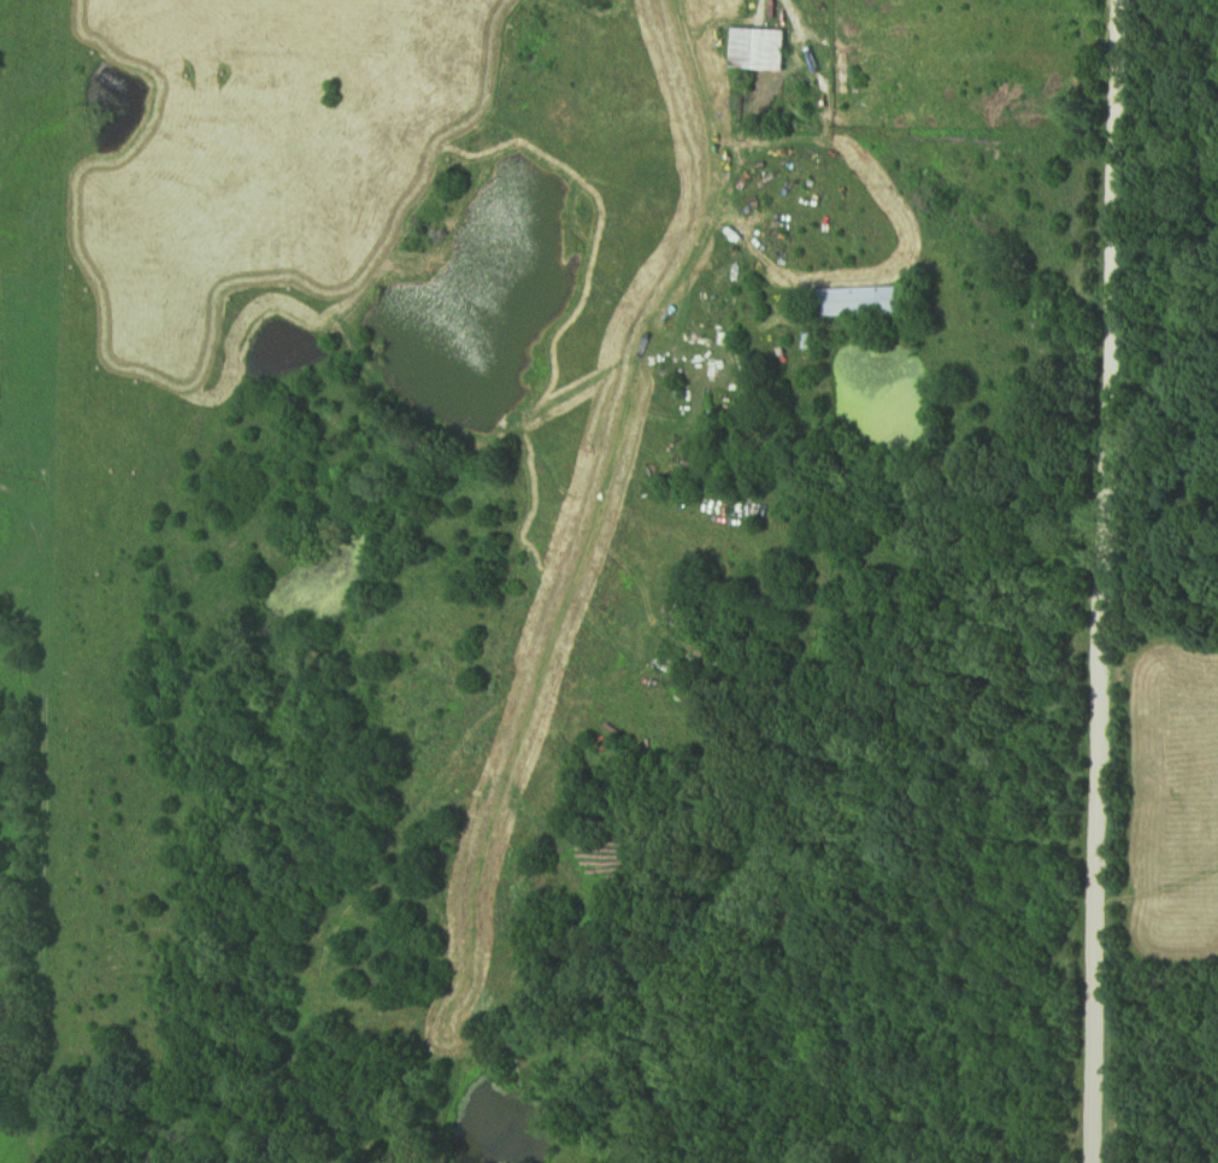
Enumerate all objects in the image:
building: (760, 49)
road: (825, 116)
road: (714, 201)
building: (869, 303)
road: (1104, 581)

